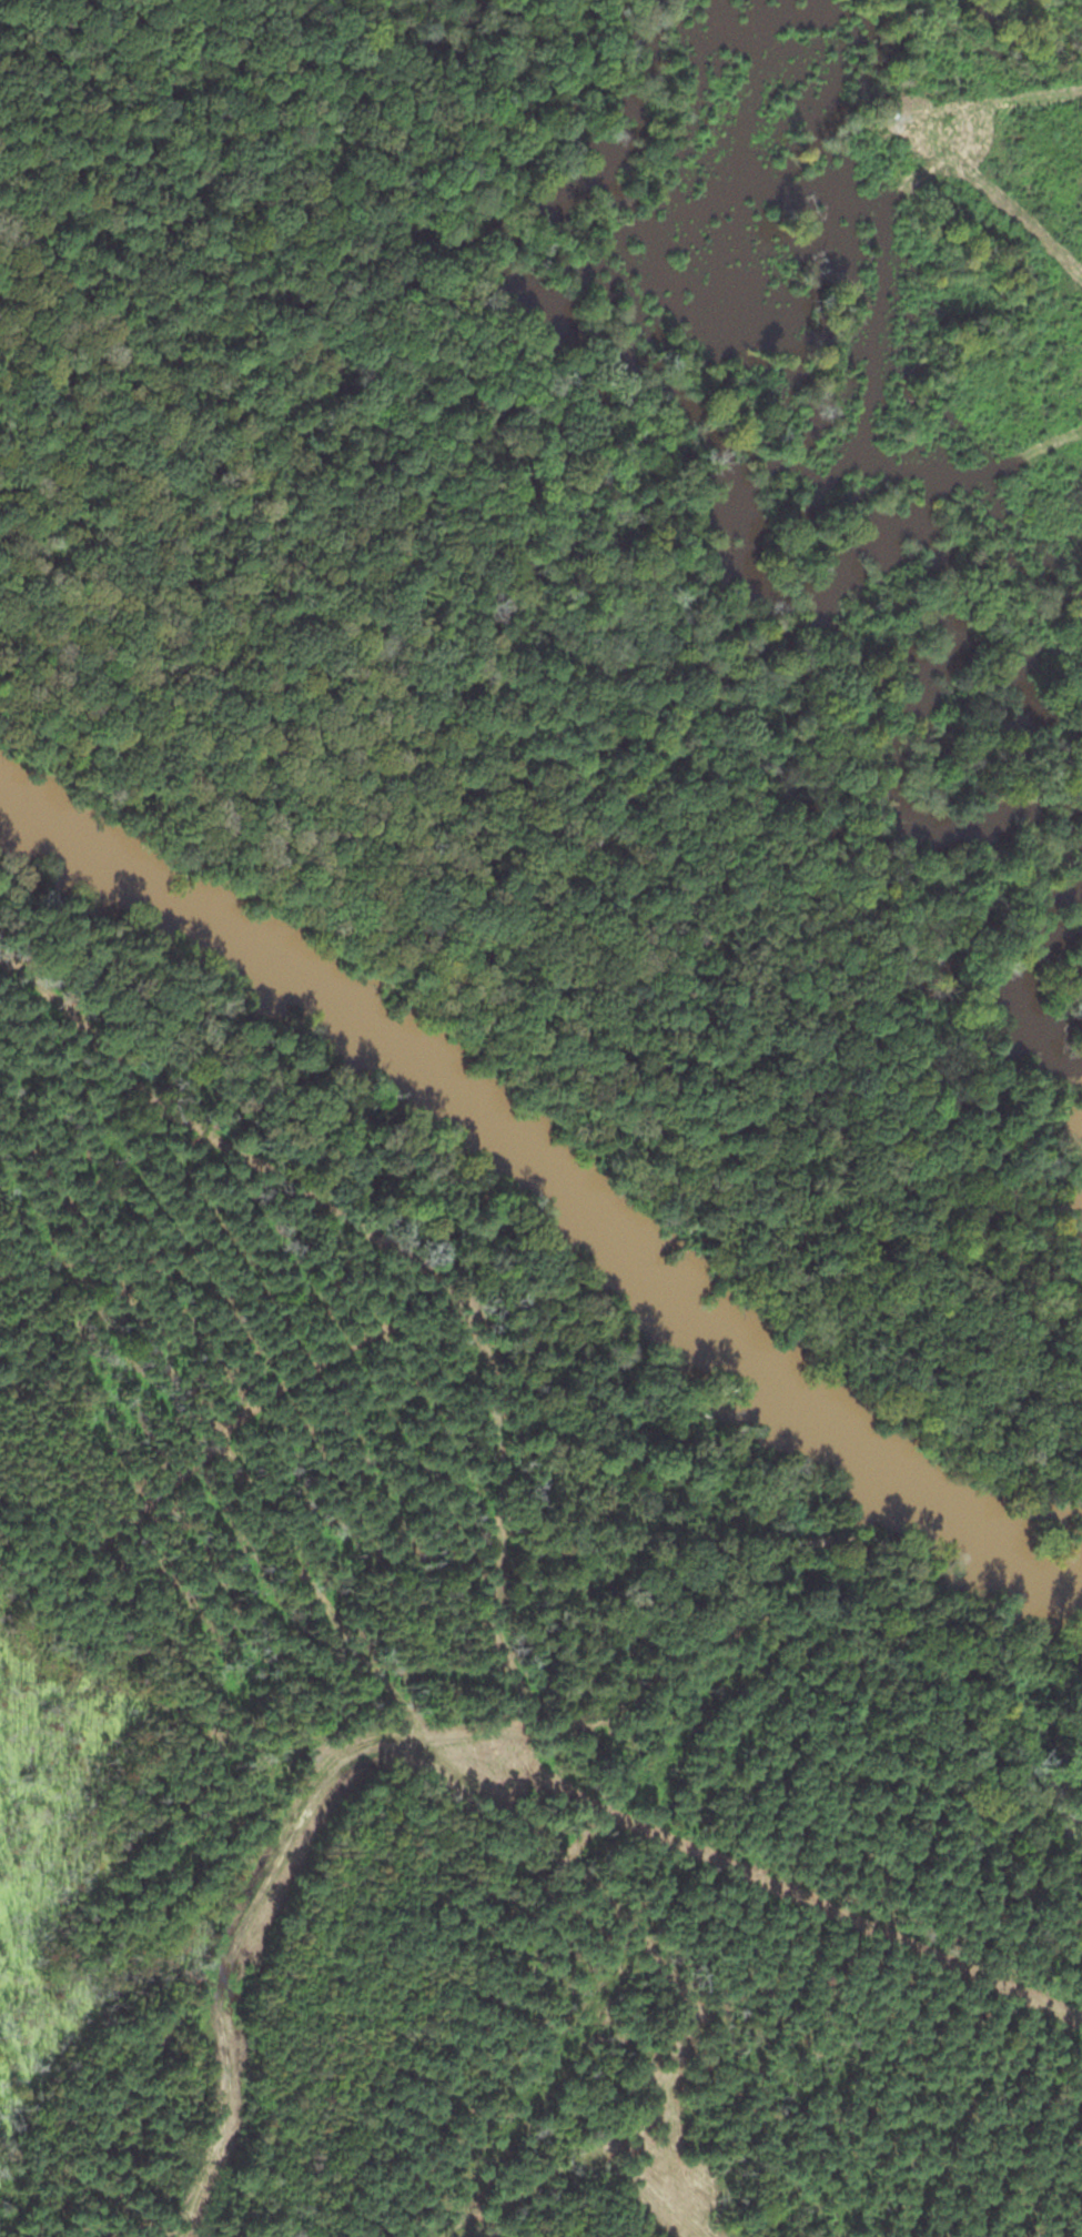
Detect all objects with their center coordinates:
river: (536, 1190)

